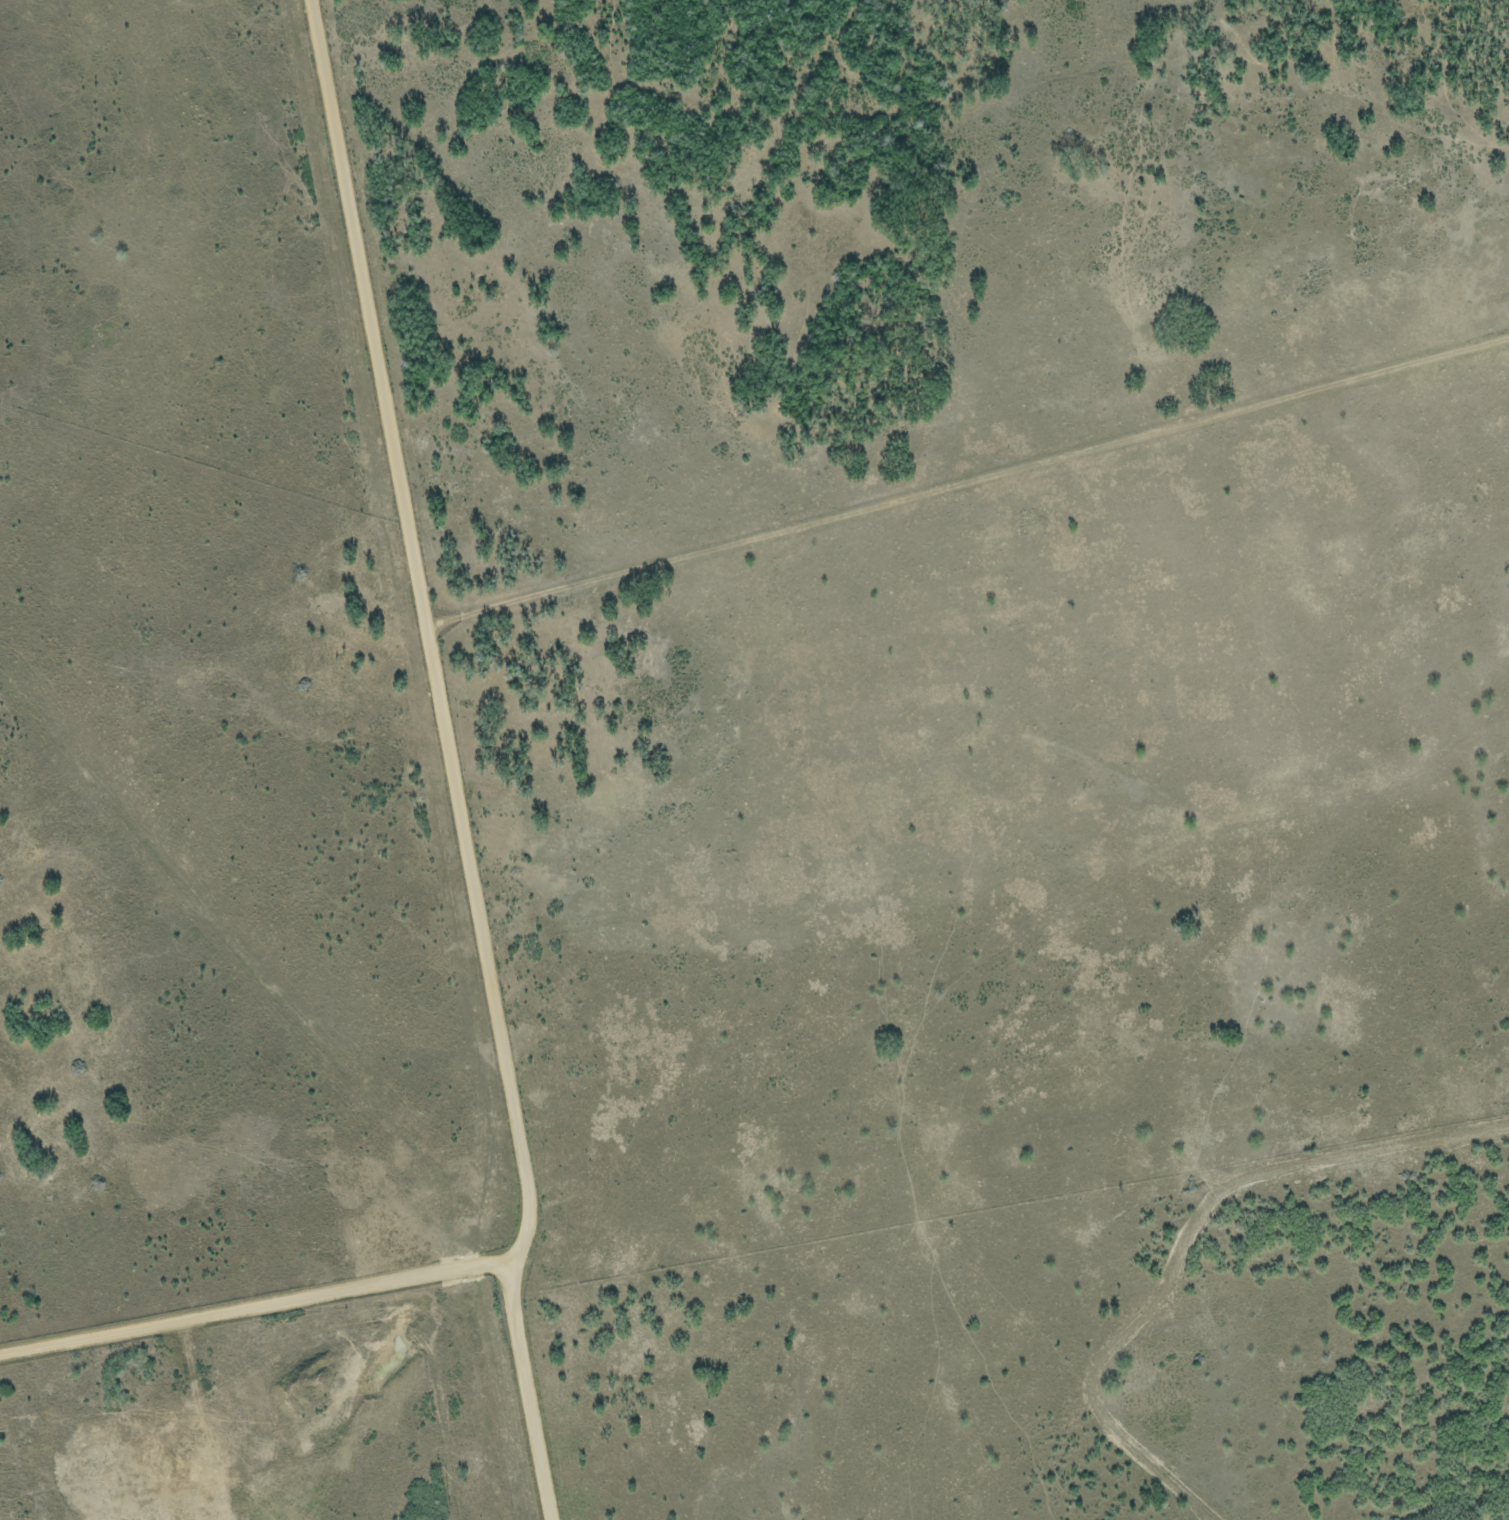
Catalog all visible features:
road: (971, 485)
road: (456, 759)
road: (260, 1302)

